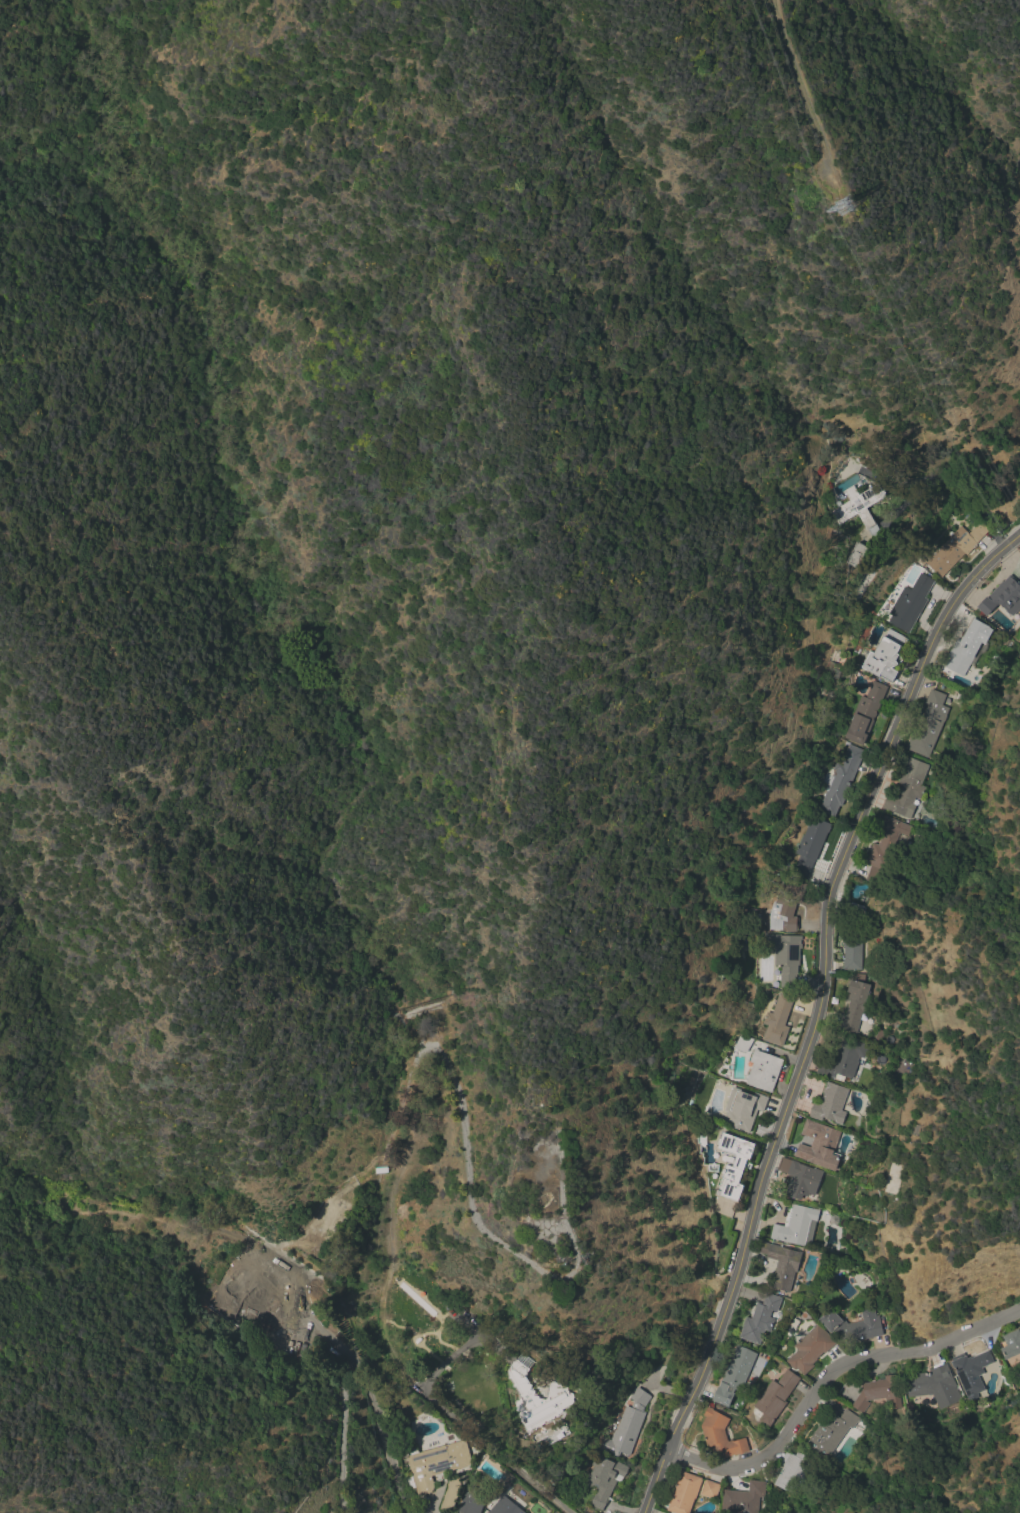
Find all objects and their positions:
road: (801, 82)
power tower: (833, 213)
building: (860, 507)
building: (955, 548)
building: (857, 554)
building: (908, 577)
building: (1003, 597)
building: (910, 603)
building: (968, 647)
building: (885, 656)
building: (994, 660)
building: (866, 712)
building: (928, 724)
building: (838, 779)
building: (907, 789)
building: (810, 846)
building: (887, 848)
building: (786, 907)
building: (856, 908)
building: (852, 949)
building: (785, 956)
building: (855, 1005)
road: (815, 1011)
building: (778, 1020)
building: (742, 1043)
building: (844, 1060)
building: (763, 1070)
building: (830, 1104)
building: (747, 1113)
building: (818, 1145)
building: (734, 1164)
building: (800, 1179)
building: (344, 1183)
building: (833, 1219)
building: (307, 1222)
building: (796, 1226)
building: (782, 1264)
building: (260, 1287)
building: (222, 1306)
building: (760, 1319)
building: (1019, 1324)
building: (853, 1325)
building: (1011, 1344)
building: (291, 1347)
building: (810, 1349)
building: (971, 1372)
building: (735, 1375)
road: (824, 1375)
building: (934, 1385)
building: (553, 1389)
building: (879, 1393)
building: (775, 1397)
building: (539, 1398)
road: (372, 1399)
road: (459, 1421)
building: (626, 1426)
road: (342, 1432)
building: (830, 1433)
building: (720, 1435)
building: (435, 1465)
building: (792, 1471)
building: (465, 1478)
building: (604, 1478)
building: (710, 1489)
building: (451, 1493)
building: (684, 1493)
building: (743, 1498)
building: (470, 1502)
building: (504, 1507)
road: (650, 1511)

